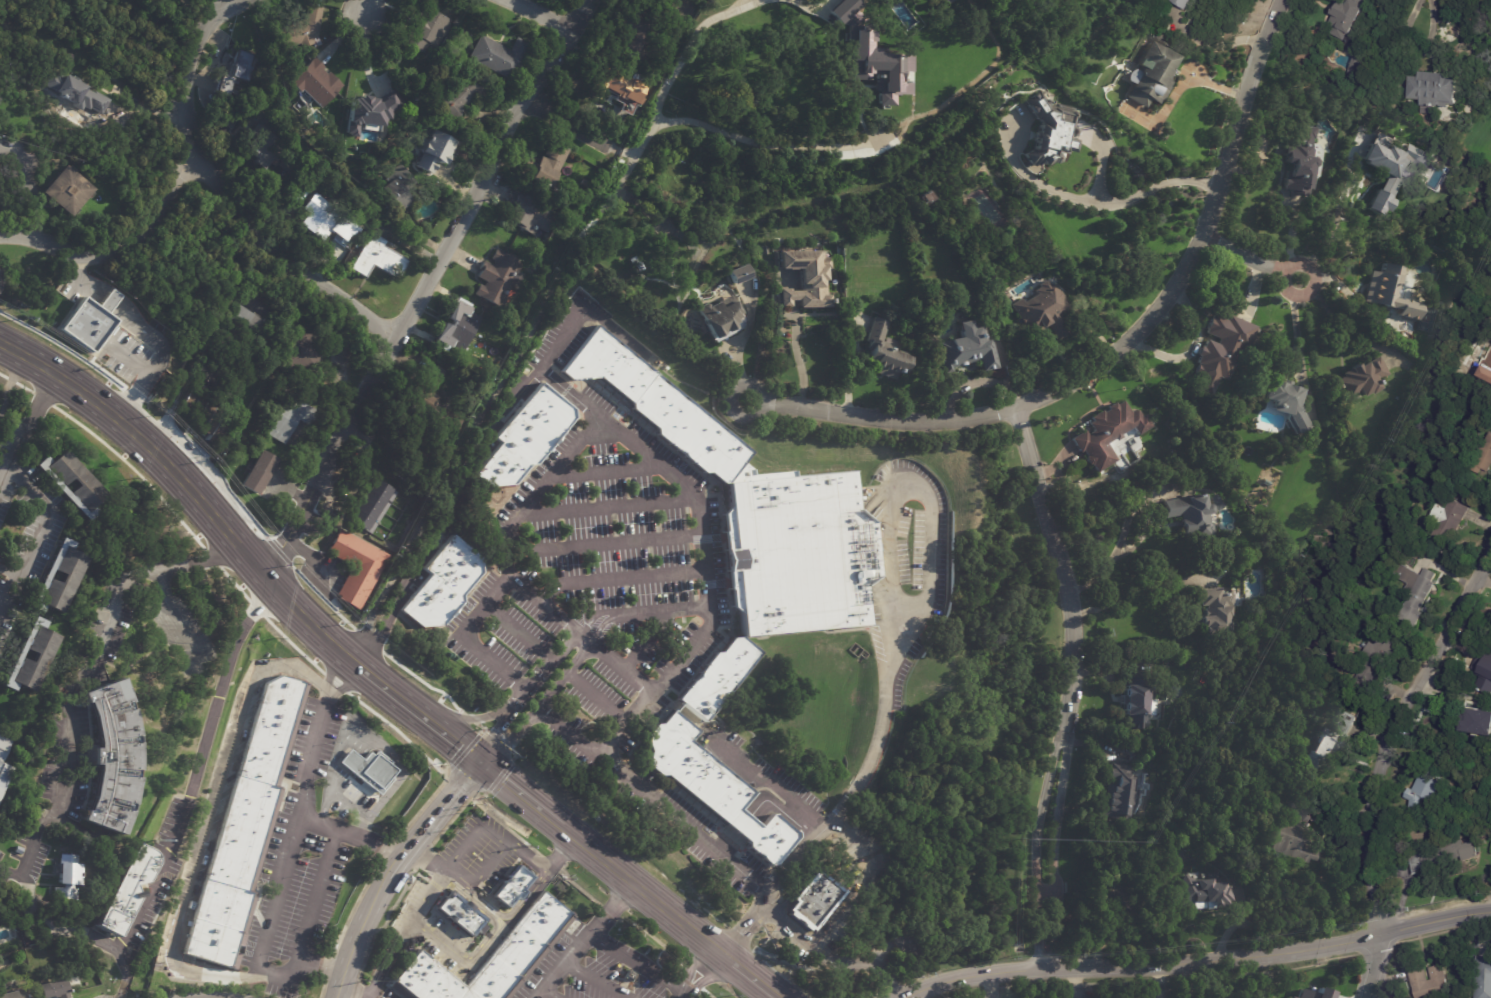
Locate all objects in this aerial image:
building: (946, 1)
building: (890, 2)
building: (1188, 3)
road: (364, 8)
road: (207, 10)
road: (221, 10)
road: (545, 16)
road: (1407, 16)
building: (1348, 19)
building: (674, 24)
road: (1428, 25)
building: (427, 26)
building: (305, 28)
building: (635, 35)
road: (686, 44)
road: (1216, 47)
building: (498, 55)
building: (863, 62)
building: (236, 69)
building: (1152, 74)
building: (410, 78)
building: (315, 82)
road: (1185, 83)
building: (622, 84)
road: (185, 89)
building: (1437, 91)
building: (75, 94)
building: (461, 94)
building: (367, 102)
road: (582, 130)
building: (1049, 130)
building: (262, 145)
building: (435, 151)
road: (1101, 162)
building: (1303, 163)
building: (1385, 163)
building: (547, 165)
building: (585, 183)
building: (397, 187)
building: (64, 190)
building: (301, 192)
building: (928, 197)
road: (1099, 200)
building: (528, 213)
road: (1337, 217)
building: (324, 219)
road: (1201, 242)
road: (119, 247)
road: (293, 252)
building: (377, 254)
road: (1252, 258)
building: (0, 272)
building: (734, 273)
building: (0, 276)
building: (498, 277)
building: (808, 278)
road: (426, 288)
building: (1391, 292)
road: (539, 305)
building: (1045, 311)
building: (88, 318)
building: (722, 319)
road: (1296, 323)
building: (247, 324)
building: (993, 324)
building: (458, 327)
building: (968, 349)
building: (1223, 350)
building: (303, 351)
building: (885, 352)
road: (738, 354)
road: (799, 358)
building: (1488, 367)
building: (1364, 377)
building: (435, 402)
building: (1288, 403)
building: (651, 404)
building: (203, 415)
road: (882, 415)
building: (290, 418)
building: (1109, 433)
building: (528, 437)
road: (146, 444)
building: (1484, 460)
building: (412, 461)
building: (257, 472)
road: (607, 472)
building: (84, 481)
road: (6, 482)
building: (1267, 483)
road: (685, 490)
road: (33, 493)
road: (538, 493)
building: (1217, 502)
building: (369, 505)
road: (608, 506)
road: (445, 516)
building: (1194, 516)
building: (1450, 519)
road: (1146, 533)
road: (603, 543)
building: (793, 553)
road: (1056, 558)
building: (356, 567)
road: (9, 571)
building: (68, 571)
road: (620, 579)
building: (442, 583)
parking lot: (597, 587)
building: (1416, 593)
road: (1132, 596)
road: (488, 602)
road: (295, 610)
road: (888, 612)
building: (1219, 612)
road: (518, 633)
road: (647, 638)
building: (40, 650)
road: (343, 655)
road: (552, 659)
building: (1171, 663)
building: (1375, 664)
building: (1483, 670)
road: (329, 671)
road: (368, 675)
building: (716, 675)
road: (565, 676)
road: (74, 680)
road: (350, 680)
road: (657, 690)
road: (600, 697)
building: (1140, 700)
road: (476, 716)
road: (428, 721)
road: (1398, 724)
building: (1477, 724)
road: (496, 731)
traffic signals: (497, 731)
road: (570, 735)
road: (512, 738)
road: (379, 742)
building: (2, 745)
building: (1331, 745)
traffic signals: (460, 747)
building: (113, 755)
building: (692, 767)
building: (369, 770)
building: (3, 773)
traffic signals: (503, 780)
road: (188, 791)
building: (1423, 791)
traffic signals: (454, 793)
building: (1121, 794)
road: (788, 798)
road: (527, 799)
road: (652, 803)
road: (762, 803)
road: (440, 808)
road: (213, 821)
road: (319, 822)
parking lot: (691, 829)
building: (761, 833)
road: (474, 834)
building: (240, 837)
road: (1037, 837)
road: (1055, 838)
road: (370, 839)
building: (1293, 842)
building: (19, 850)
parking lot: (479, 851)
parking lot: (302, 854)
building: (1441, 856)
road: (559, 857)
road: (424, 860)
road: (526, 861)
road: (839, 872)
building: (65, 876)
road: (480, 876)
building: (1202, 882)
building: (511, 886)
building: (126, 891)
road: (429, 892)
road: (649, 896)
building: (814, 900)
building: (1121, 902)
road: (495, 909)
road: (848, 910)
building: (458, 912)
road: (362, 923)
road: (270, 926)
road: (747, 927)
road: (59, 928)
road: (483, 940)
road: (585, 940)
road: (388, 956)
building: (490, 959)
road: (864, 965)
road: (638, 966)
road: (1198, 966)
road: (321, 967)
road: (1371, 967)
building: (1483, 970)
parking lot: (600, 971)
road: (701, 973)
building: (630, 976)
road: (750, 977)
road: (595, 980)
road: (1194, 982)
building: (1430, 982)
road: (1076, 983)
road: (1157, 983)
road: (357, 986)
road: (990, 986)
building: (54, 988)
parking lot: (377, 989)
building: (14, 994)
road: (551, 994)
building: (1309, 994)
building: (1293, 997)

